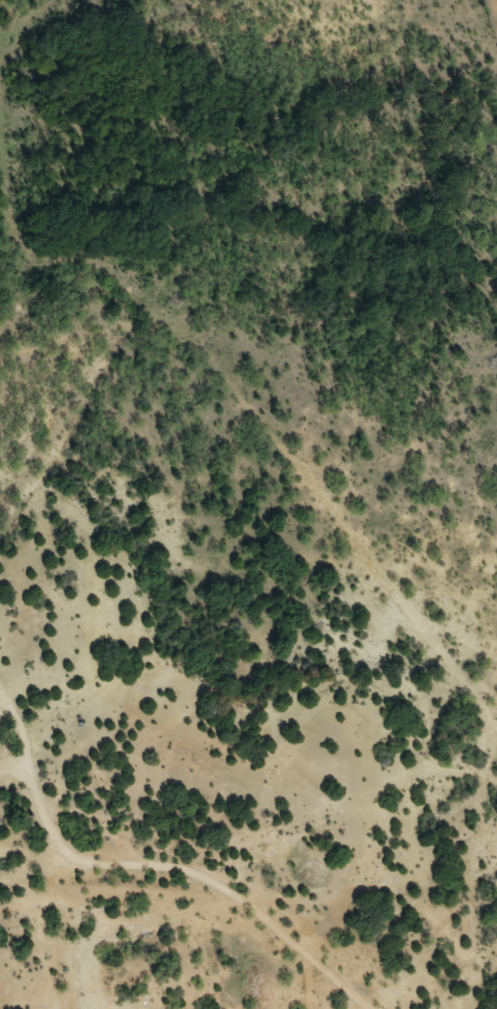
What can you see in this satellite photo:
road: (110, 875)

